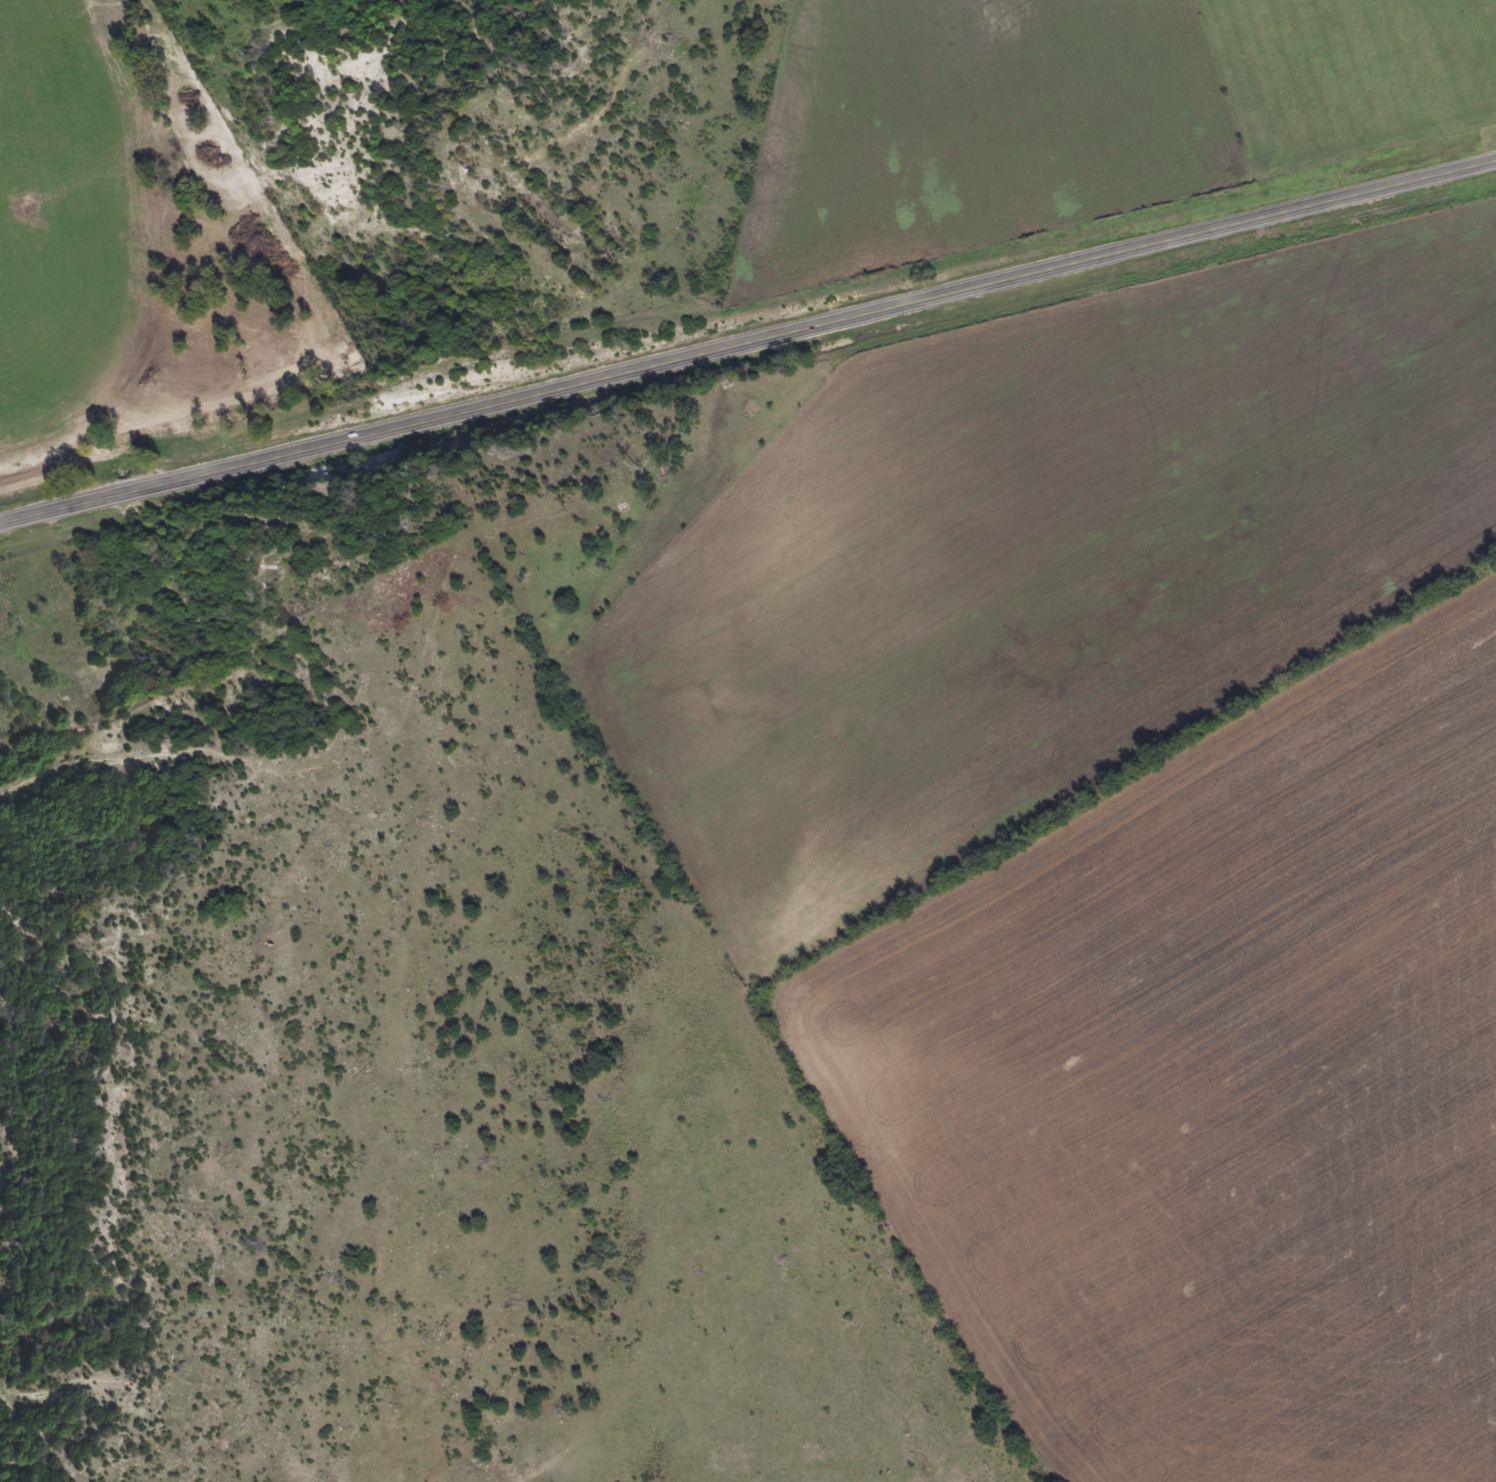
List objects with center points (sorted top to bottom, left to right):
road: (748, 342)

